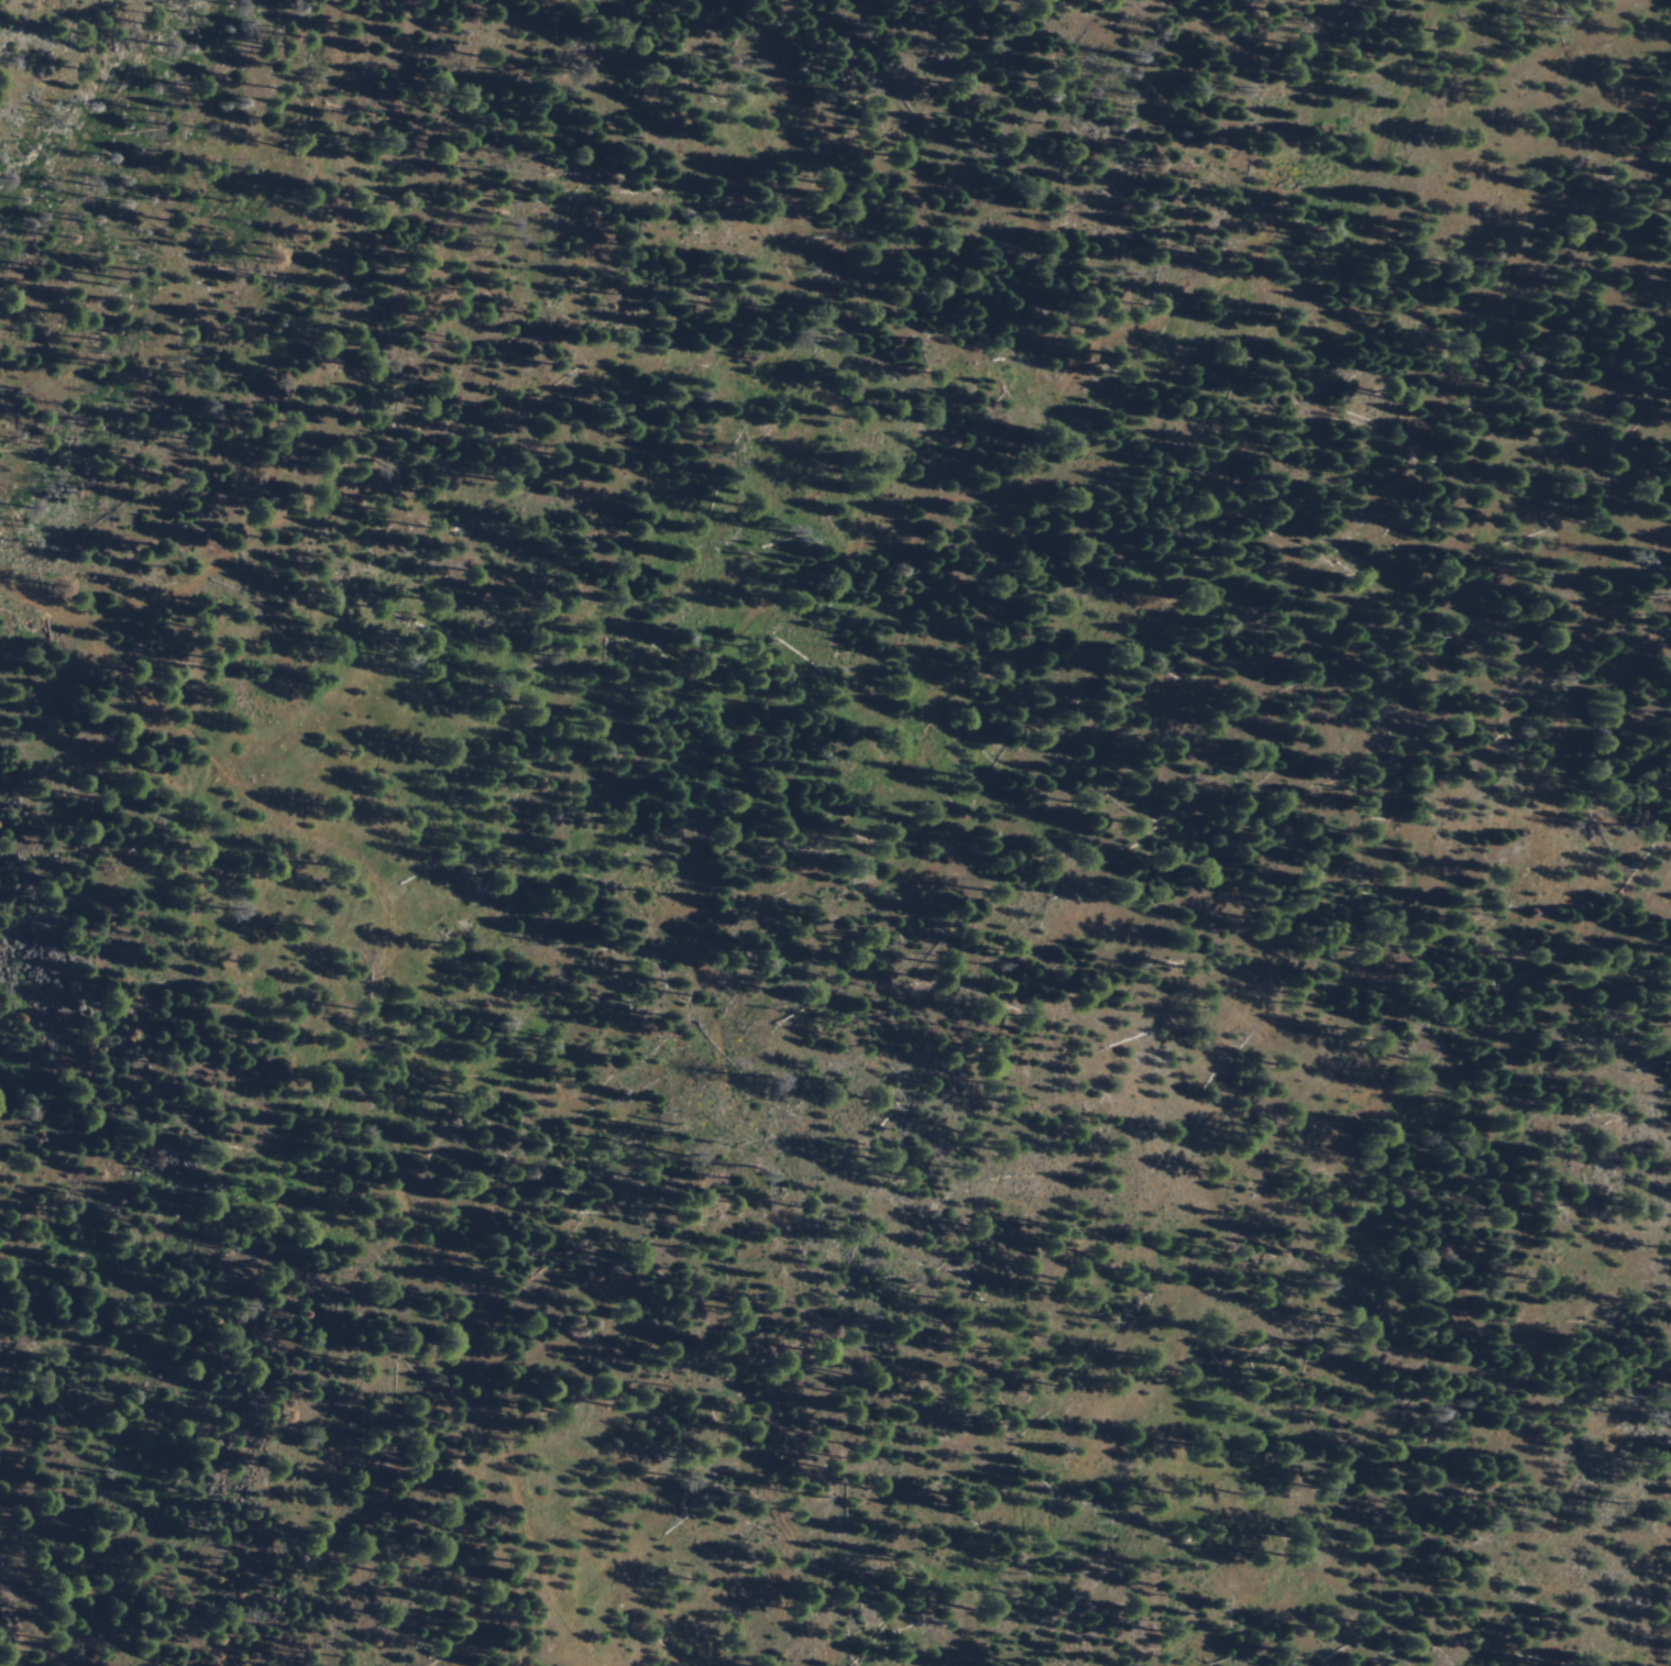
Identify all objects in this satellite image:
road: (207, 360)
road: (840, 525)

